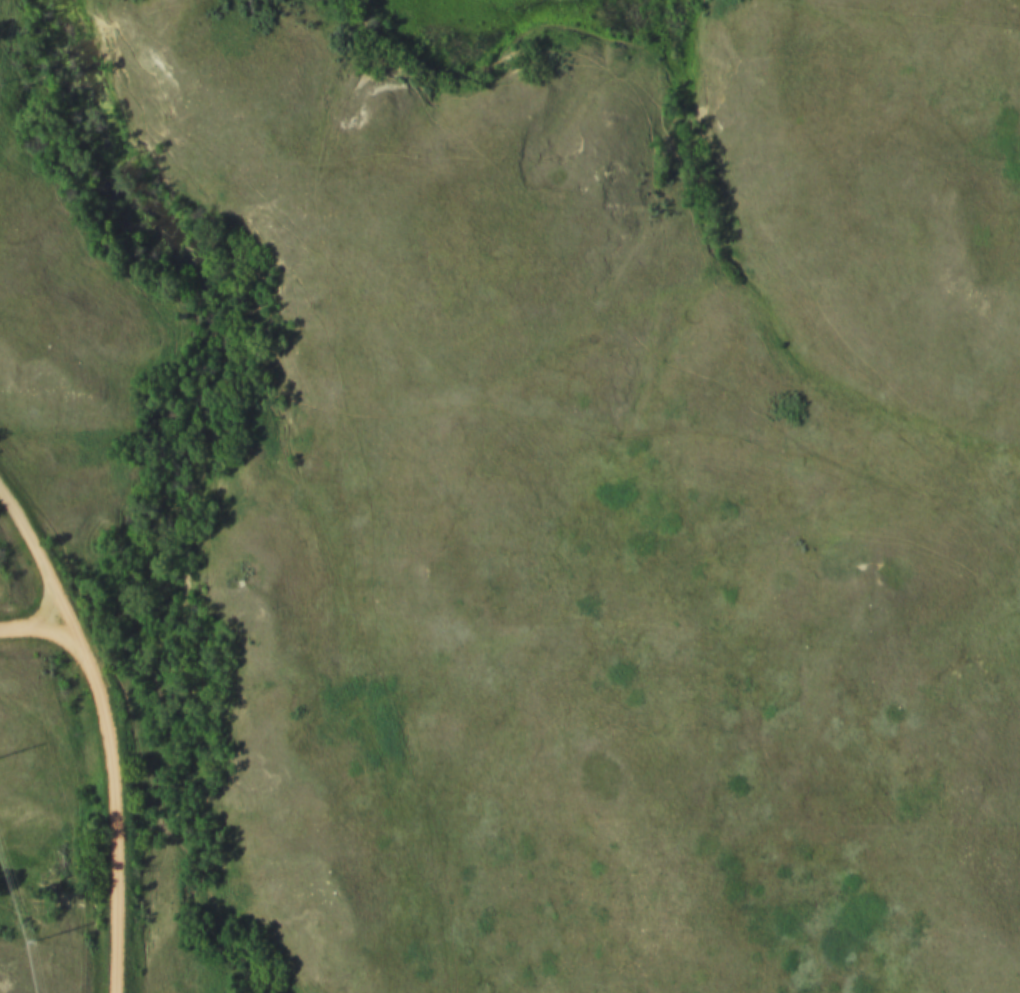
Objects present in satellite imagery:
road: (41, 544)
road: (39, 628)
road: (119, 802)

